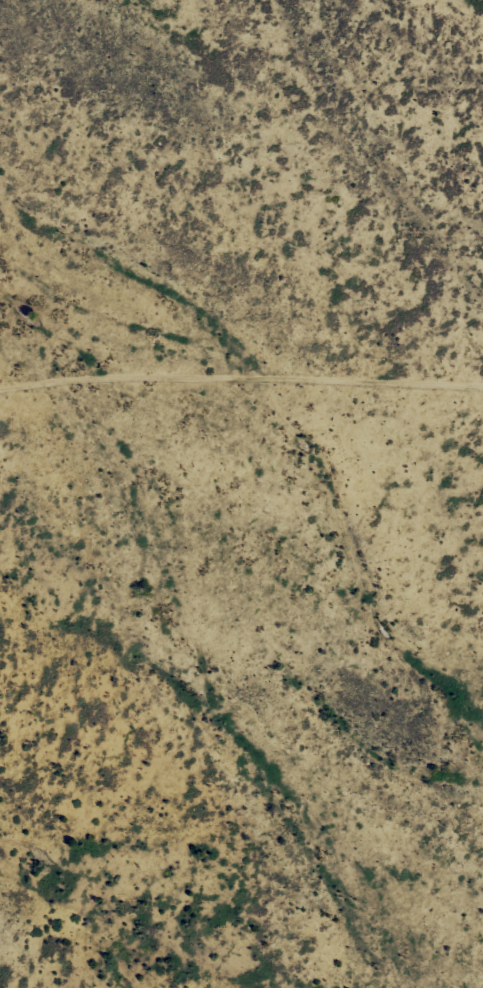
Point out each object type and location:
road: (241, 415)

